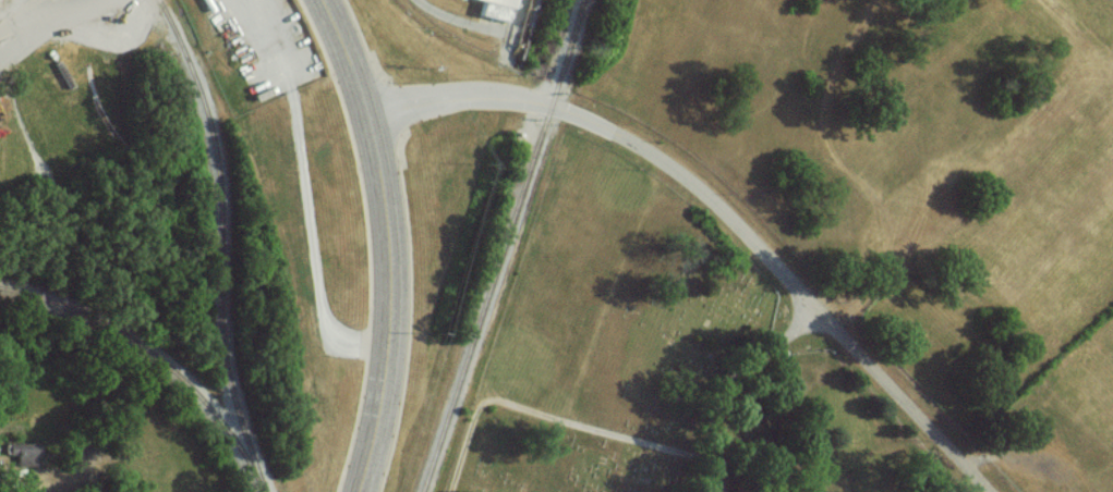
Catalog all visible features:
building: (499, 2)
railway: (527, 30)
road: (347, 53)
road: (722, 209)
railway: (221, 243)
railway: (505, 246)
road: (390, 300)
park: (664, 355)
railway: (156, 358)
building: (25, 452)
building: (39, 480)

